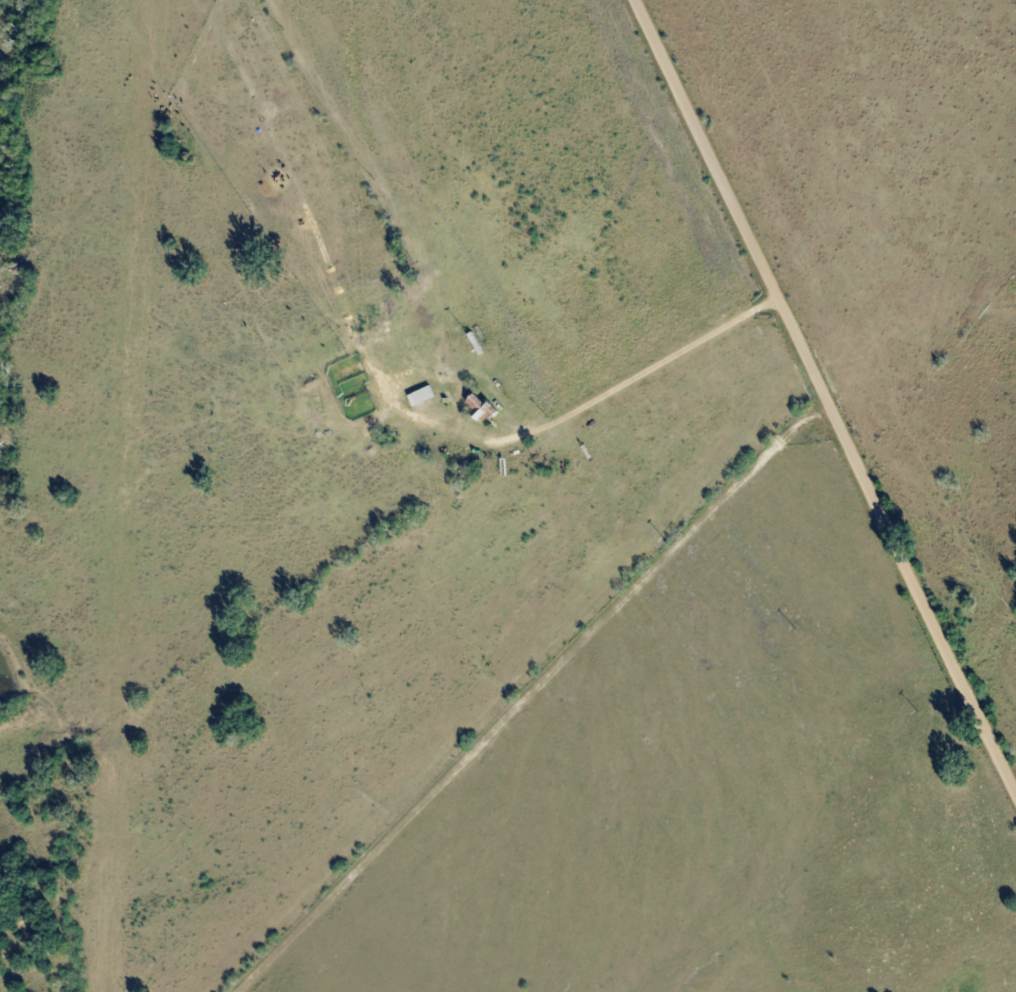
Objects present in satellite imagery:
road: (825, 392)
road: (406, 468)

